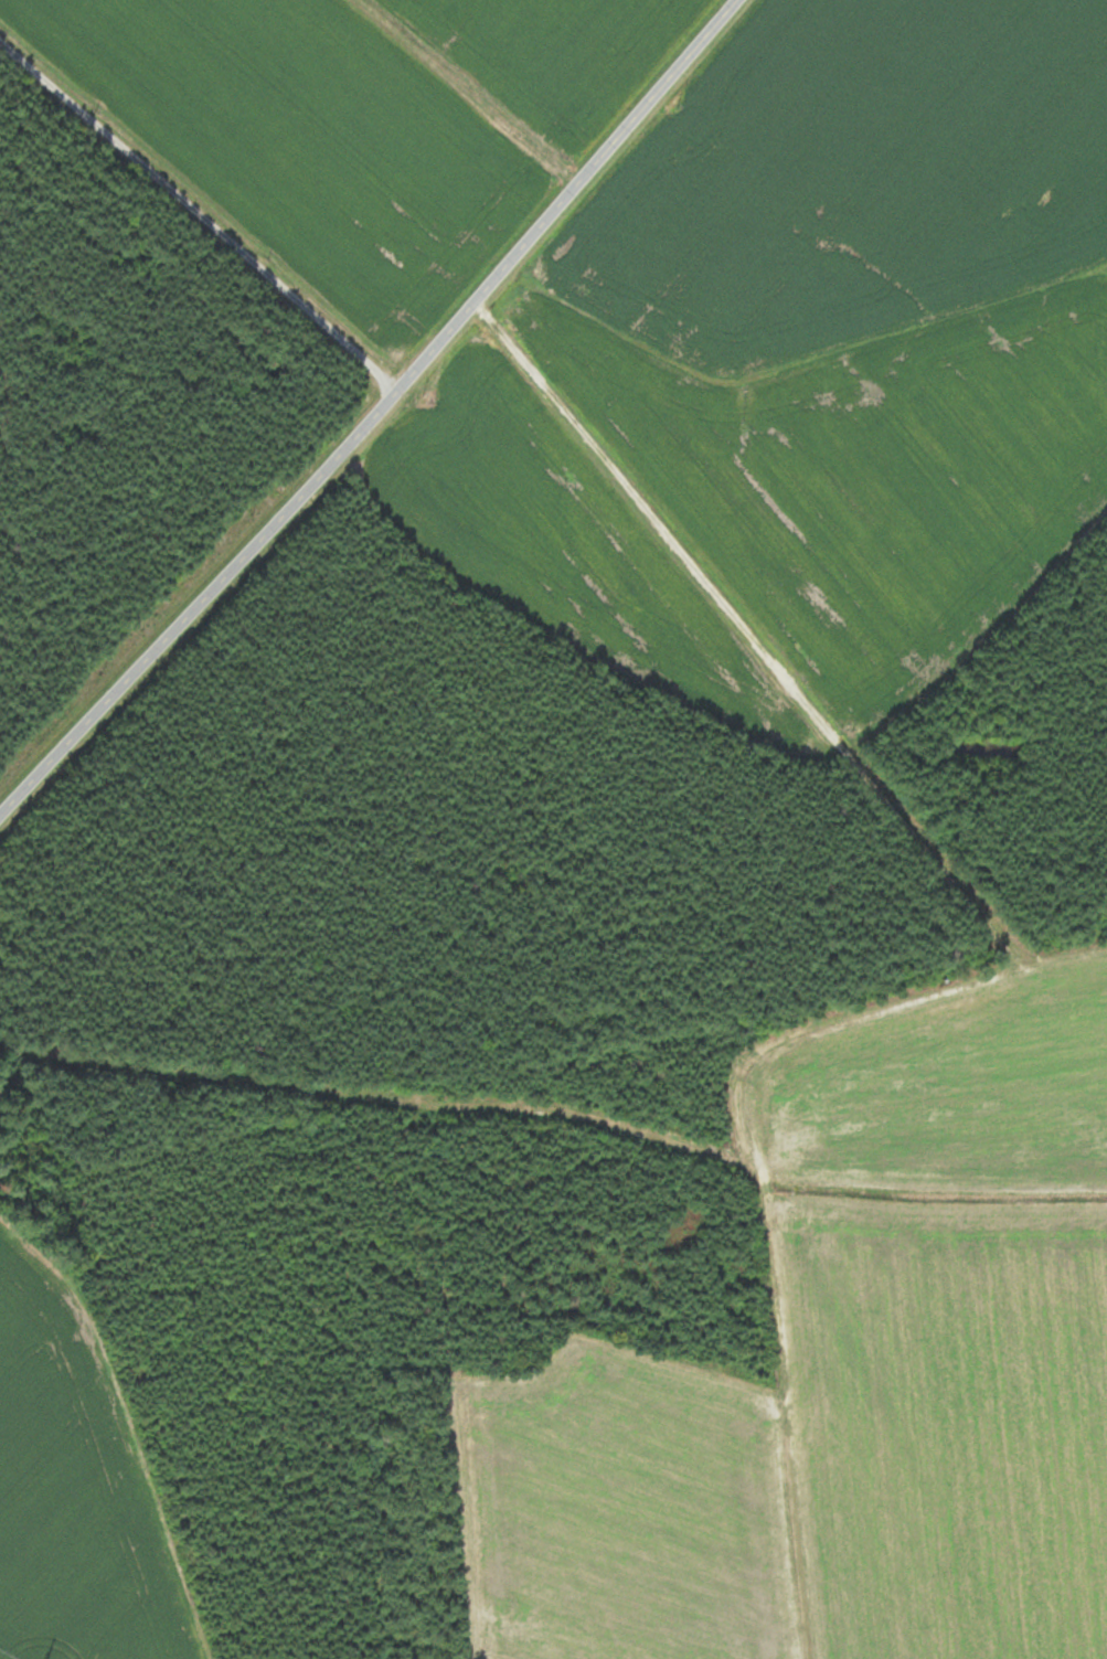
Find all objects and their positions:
road: (207, 190)
road: (373, 416)

